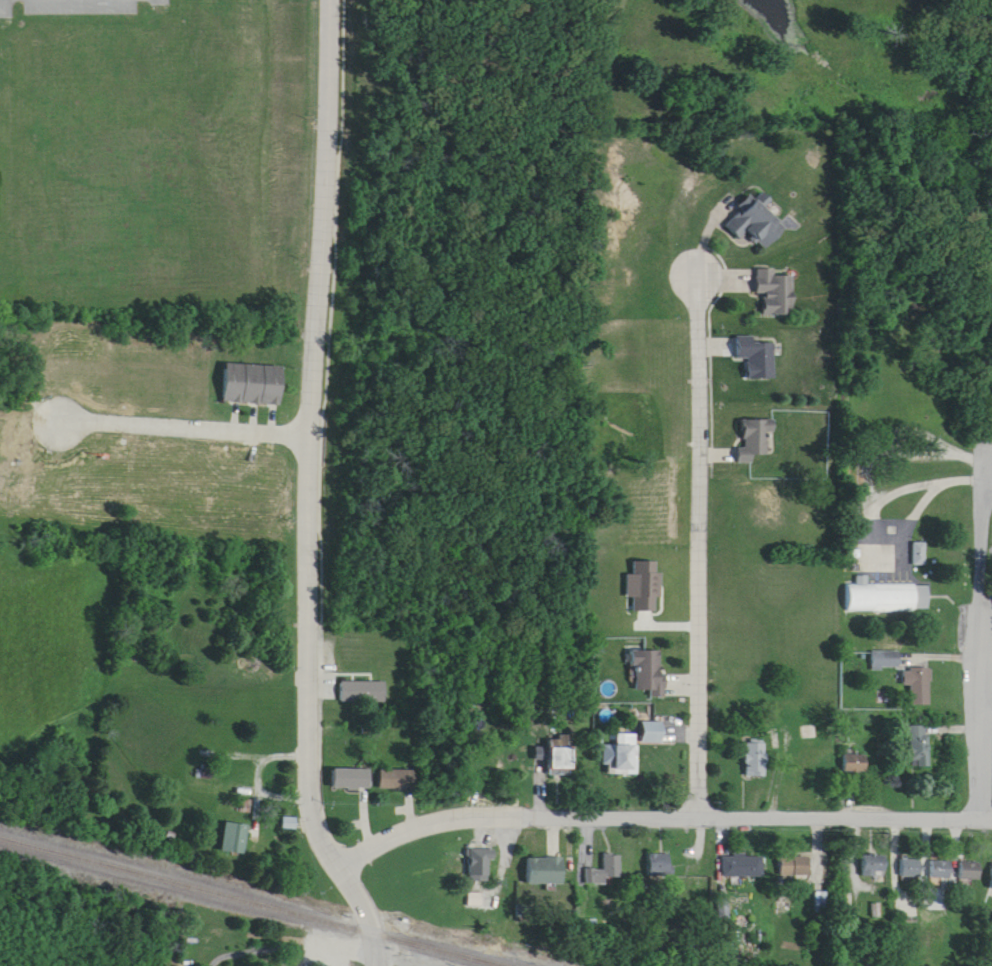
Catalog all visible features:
road: (3, 8)
road: (326, 219)
building: (758, 226)
building: (778, 294)
park: (924, 314)
building: (758, 357)
building: (253, 385)
road: (184, 429)
building: (756, 439)
park: (983, 451)
road: (988, 490)
road: (872, 495)
road: (705, 533)
road: (988, 586)
building: (644, 588)
building: (888, 598)
road: (984, 622)
road: (319, 654)
building: (887, 661)
building: (649, 673)
building: (919, 685)
building: (365, 693)
road: (988, 699)
building: (652, 733)
building: (920, 747)
building: (625, 755)
building: (757, 760)
building: (561, 762)
building: (856, 764)
building: (352, 780)
building: (399, 781)
road: (663, 801)
building: (236, 840)
building: (481, 866)
building: (662, 866)
building: (743, 866)
building: (800, 866)
building: (875, 867)
building: (912, 868)
building: (942, 870)
building: (547, 872)
building: (608, 872)
building: (971, 873)
railway: (272, 896)
road: (368, 913)

